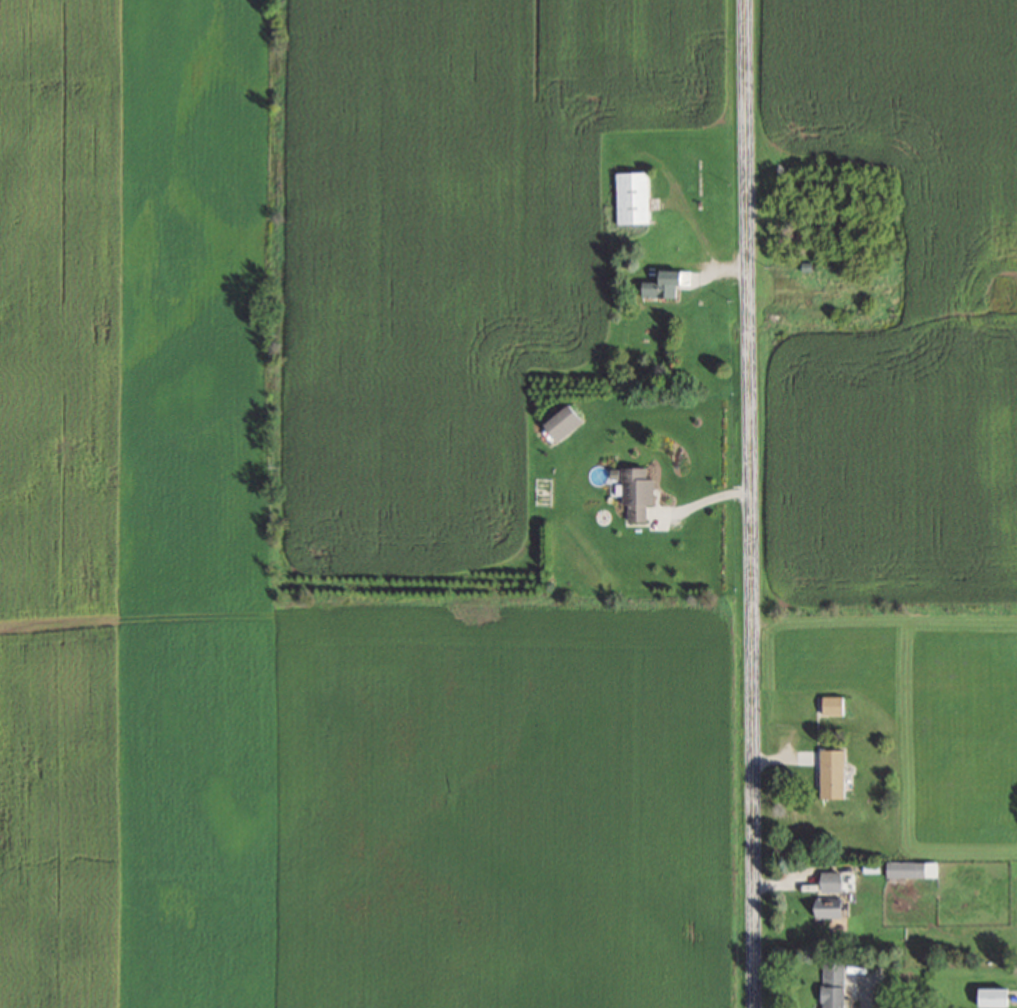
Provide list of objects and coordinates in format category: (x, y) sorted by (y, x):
building: (635, 197)
building: (667, 284)
building: (566, 422)
building: (638, 492)
road: (749, 503)
building: (834, 704)
building: (836, 772)
building: (914, 868)
building: (835, 880)
building: (836, 906)
building: (836, 983)
building: (997, 996)

